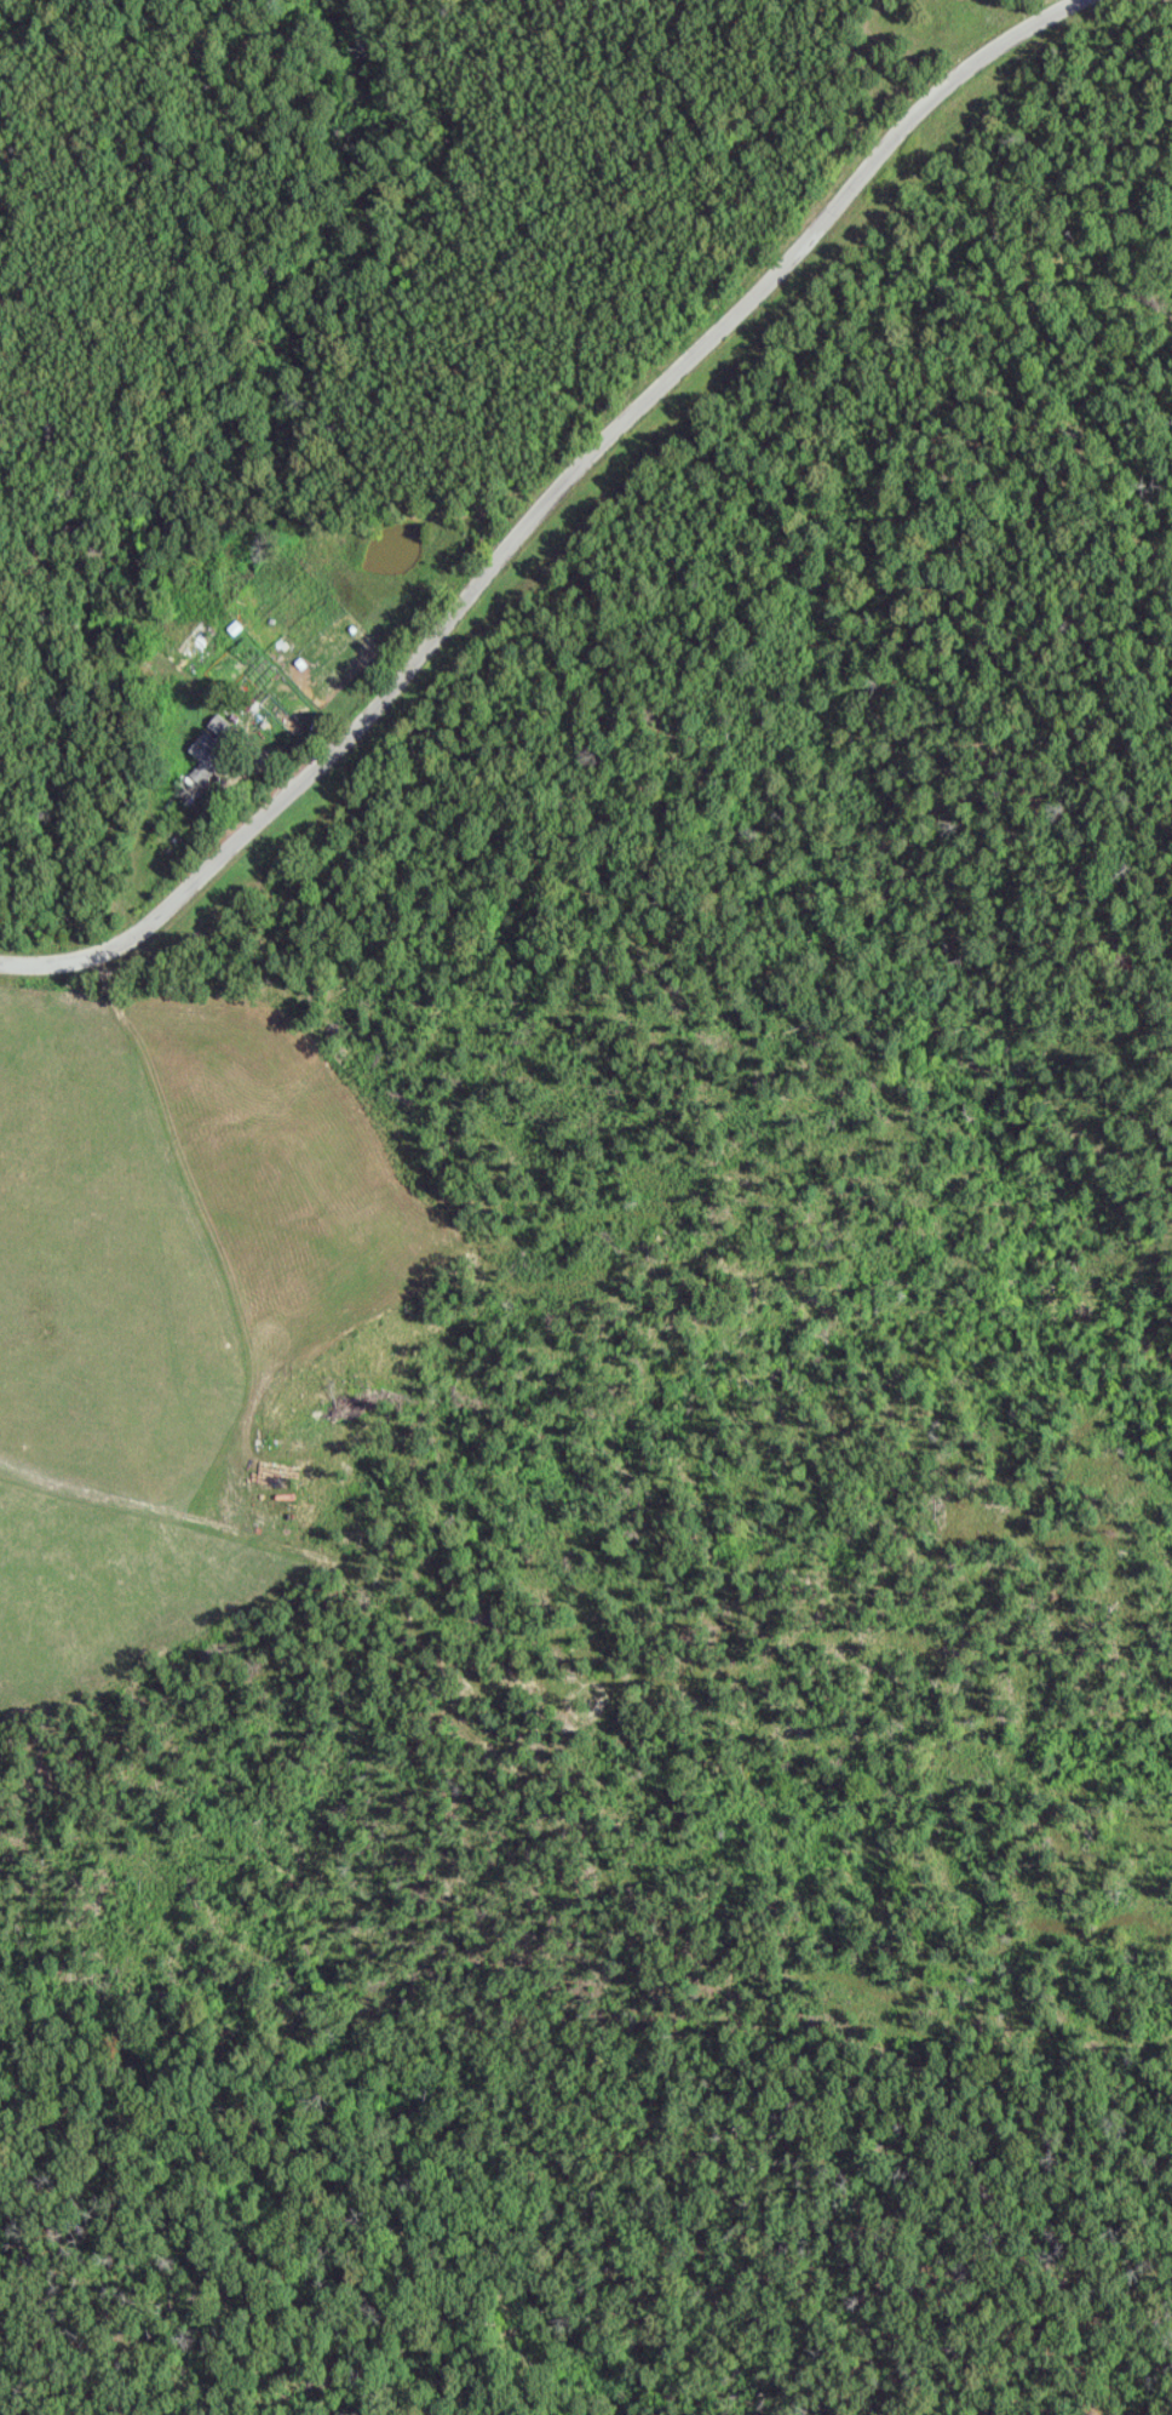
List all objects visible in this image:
road: (553, 504)

